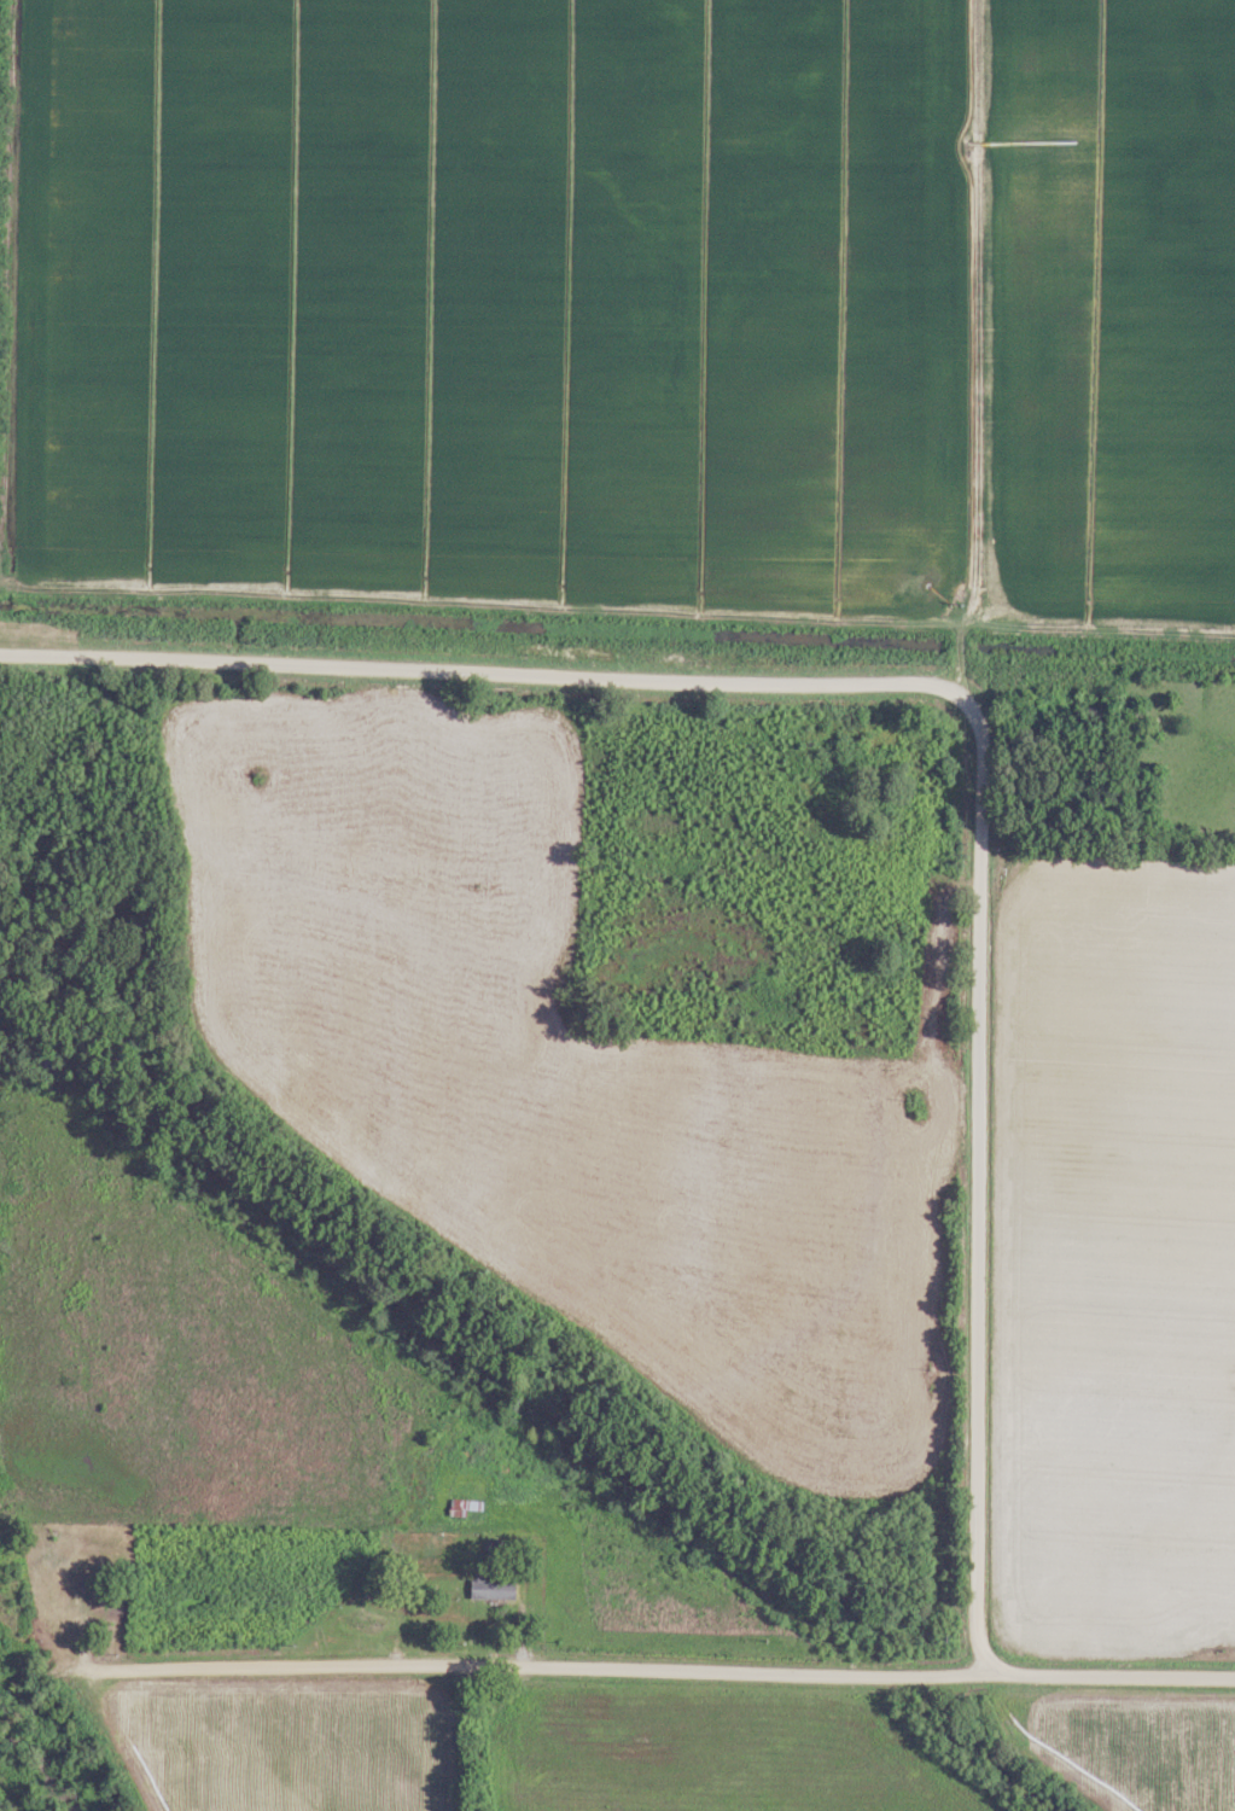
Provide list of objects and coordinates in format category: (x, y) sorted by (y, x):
road: (968, 704)
building: (462, 1506)
building: (490, 1588)
building: (74, 1599)
building: (366, 1620)
road: (662, 1671)

